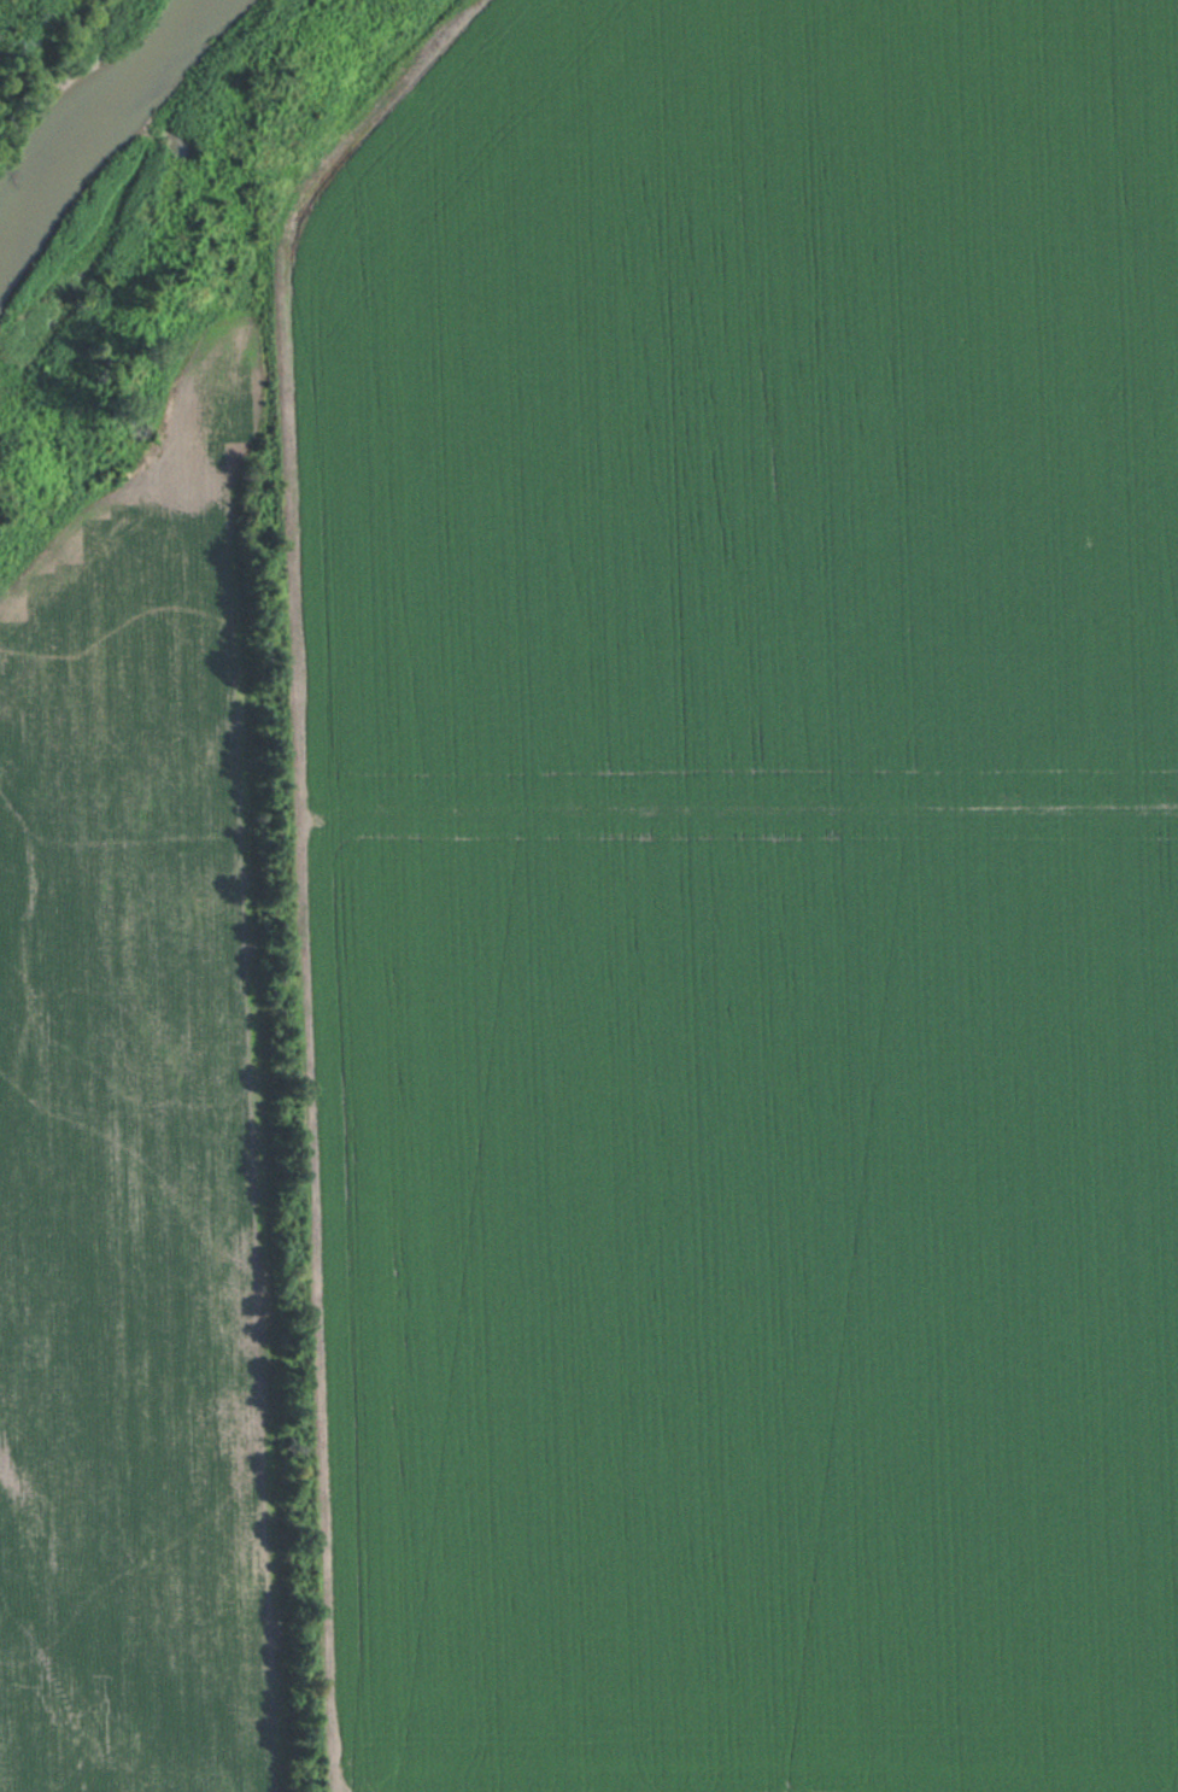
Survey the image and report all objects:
river: (95, 121)

